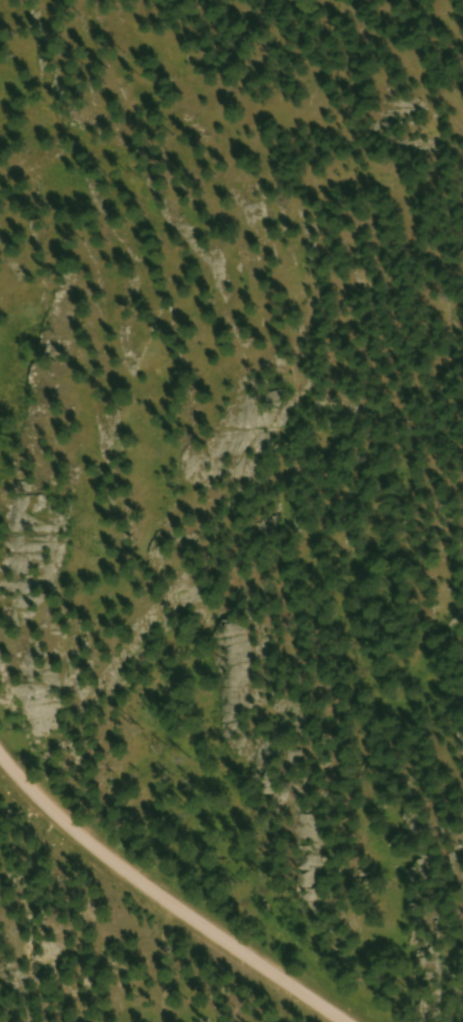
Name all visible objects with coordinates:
road: (165, 899)

